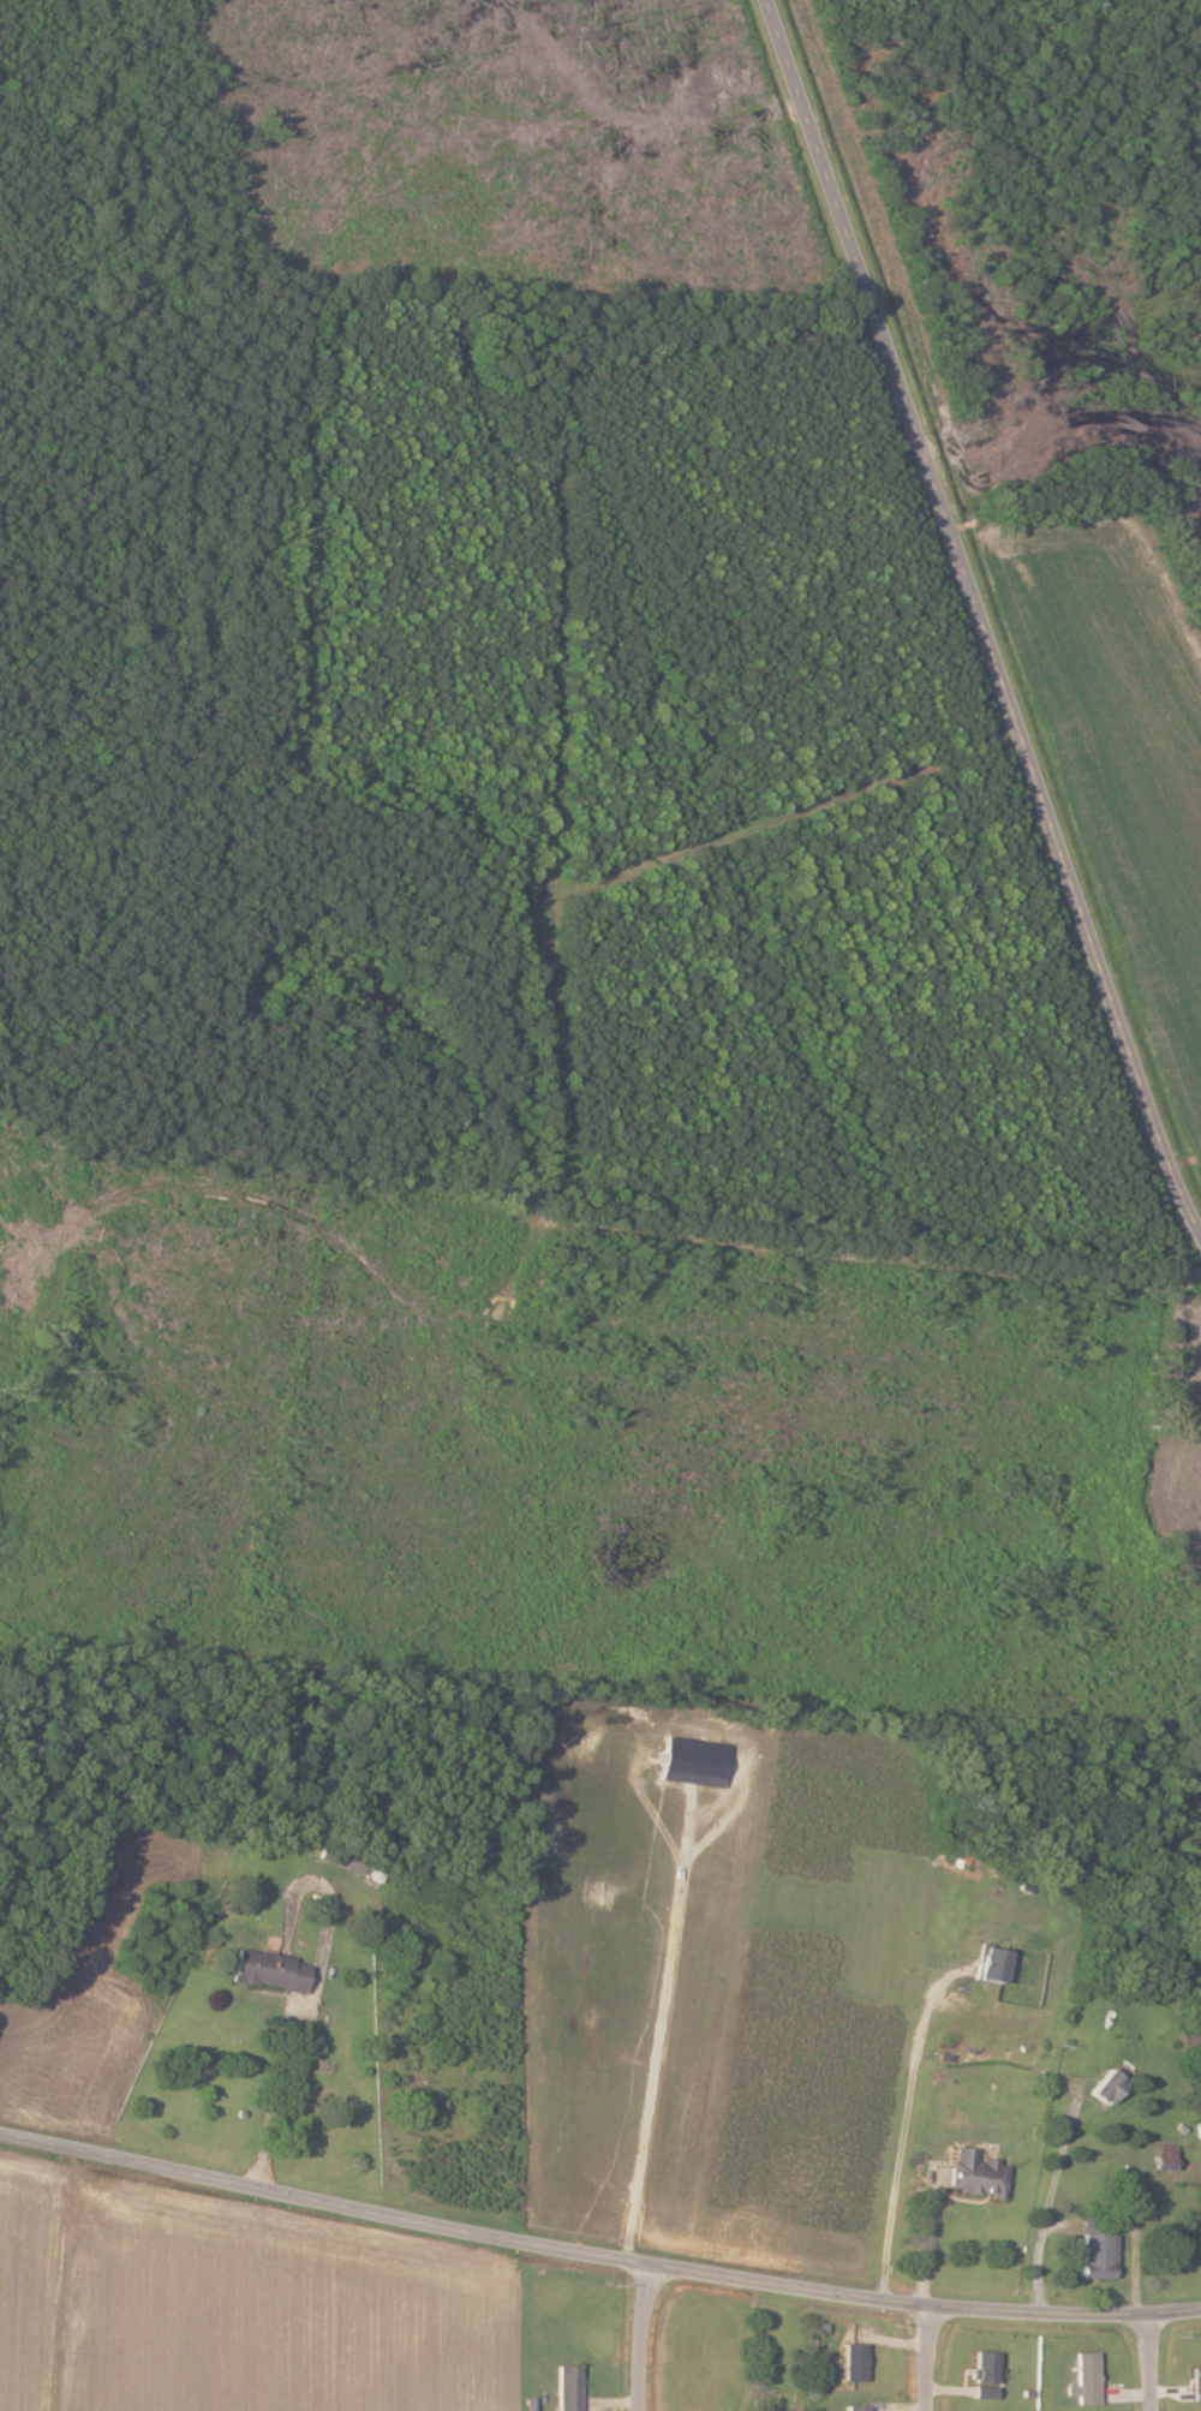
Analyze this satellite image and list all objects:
road: (973, 633)
building: (990, 1964)
building: (270, 1971)
road: (312, 1994)
building: (1107, 2088)
road: (903, 2125)
building: (1164, 2156)
building: (976, 2173)
road: (1050, 2201)
road: (930, 2236)
building: (1097, 2244)
road: (596, 2252)
road: (640, 2337)
road: (927, 2358)
building: (855, 2359)
road: (1148, 2362)
building: (984, 2371)
building: (1088, 2377)
building: (1197, 2381)
building: (568, 2387)
building: (856, 2407)

